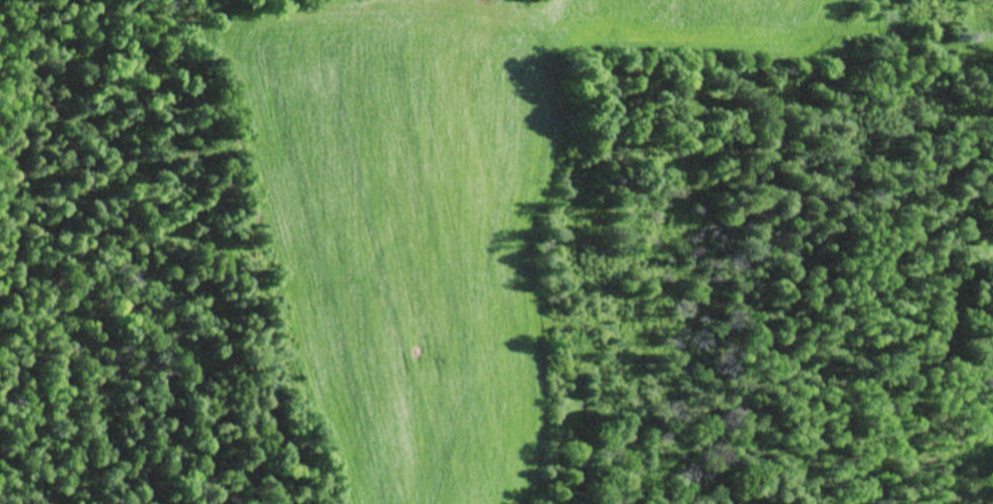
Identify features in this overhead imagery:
park: (983, 331)

